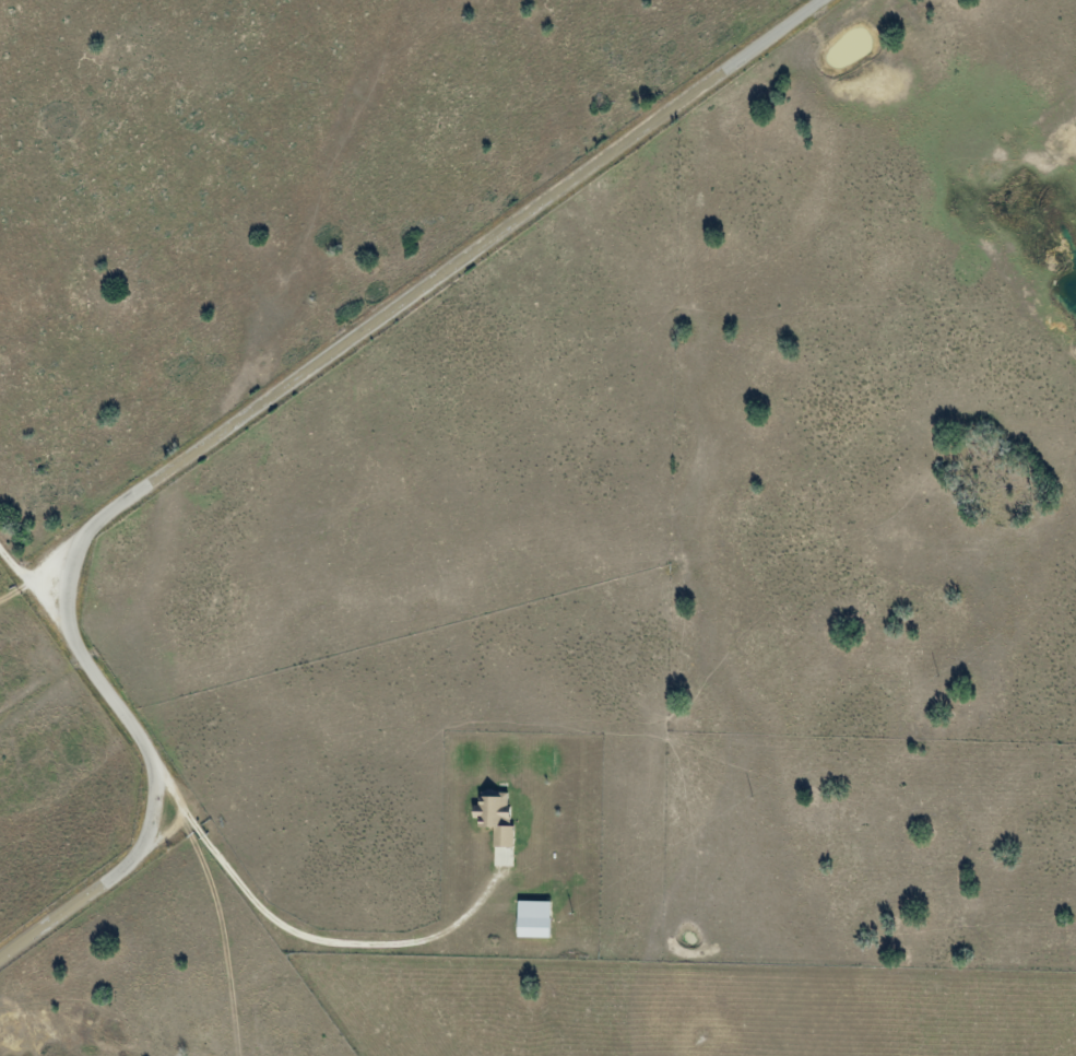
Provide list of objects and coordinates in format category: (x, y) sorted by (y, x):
road: (241, 416)
road: (36, 584)
building: (534, 919)

